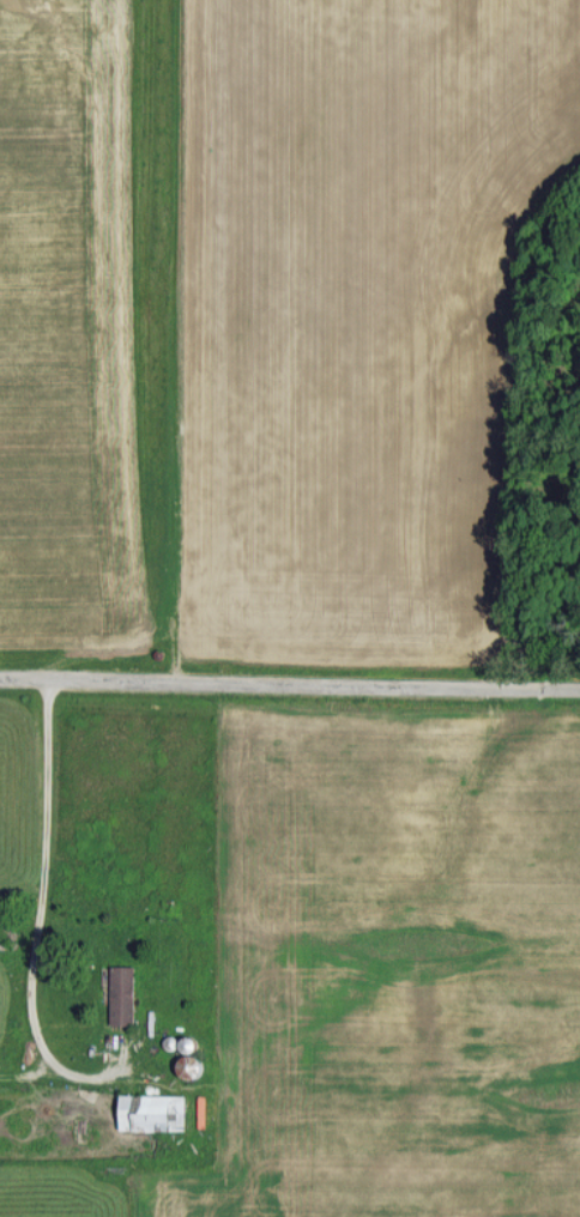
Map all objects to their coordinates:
road: (289, 673)
road: (38, 862)
road: (26, 1065)
road: (92, 1074)

